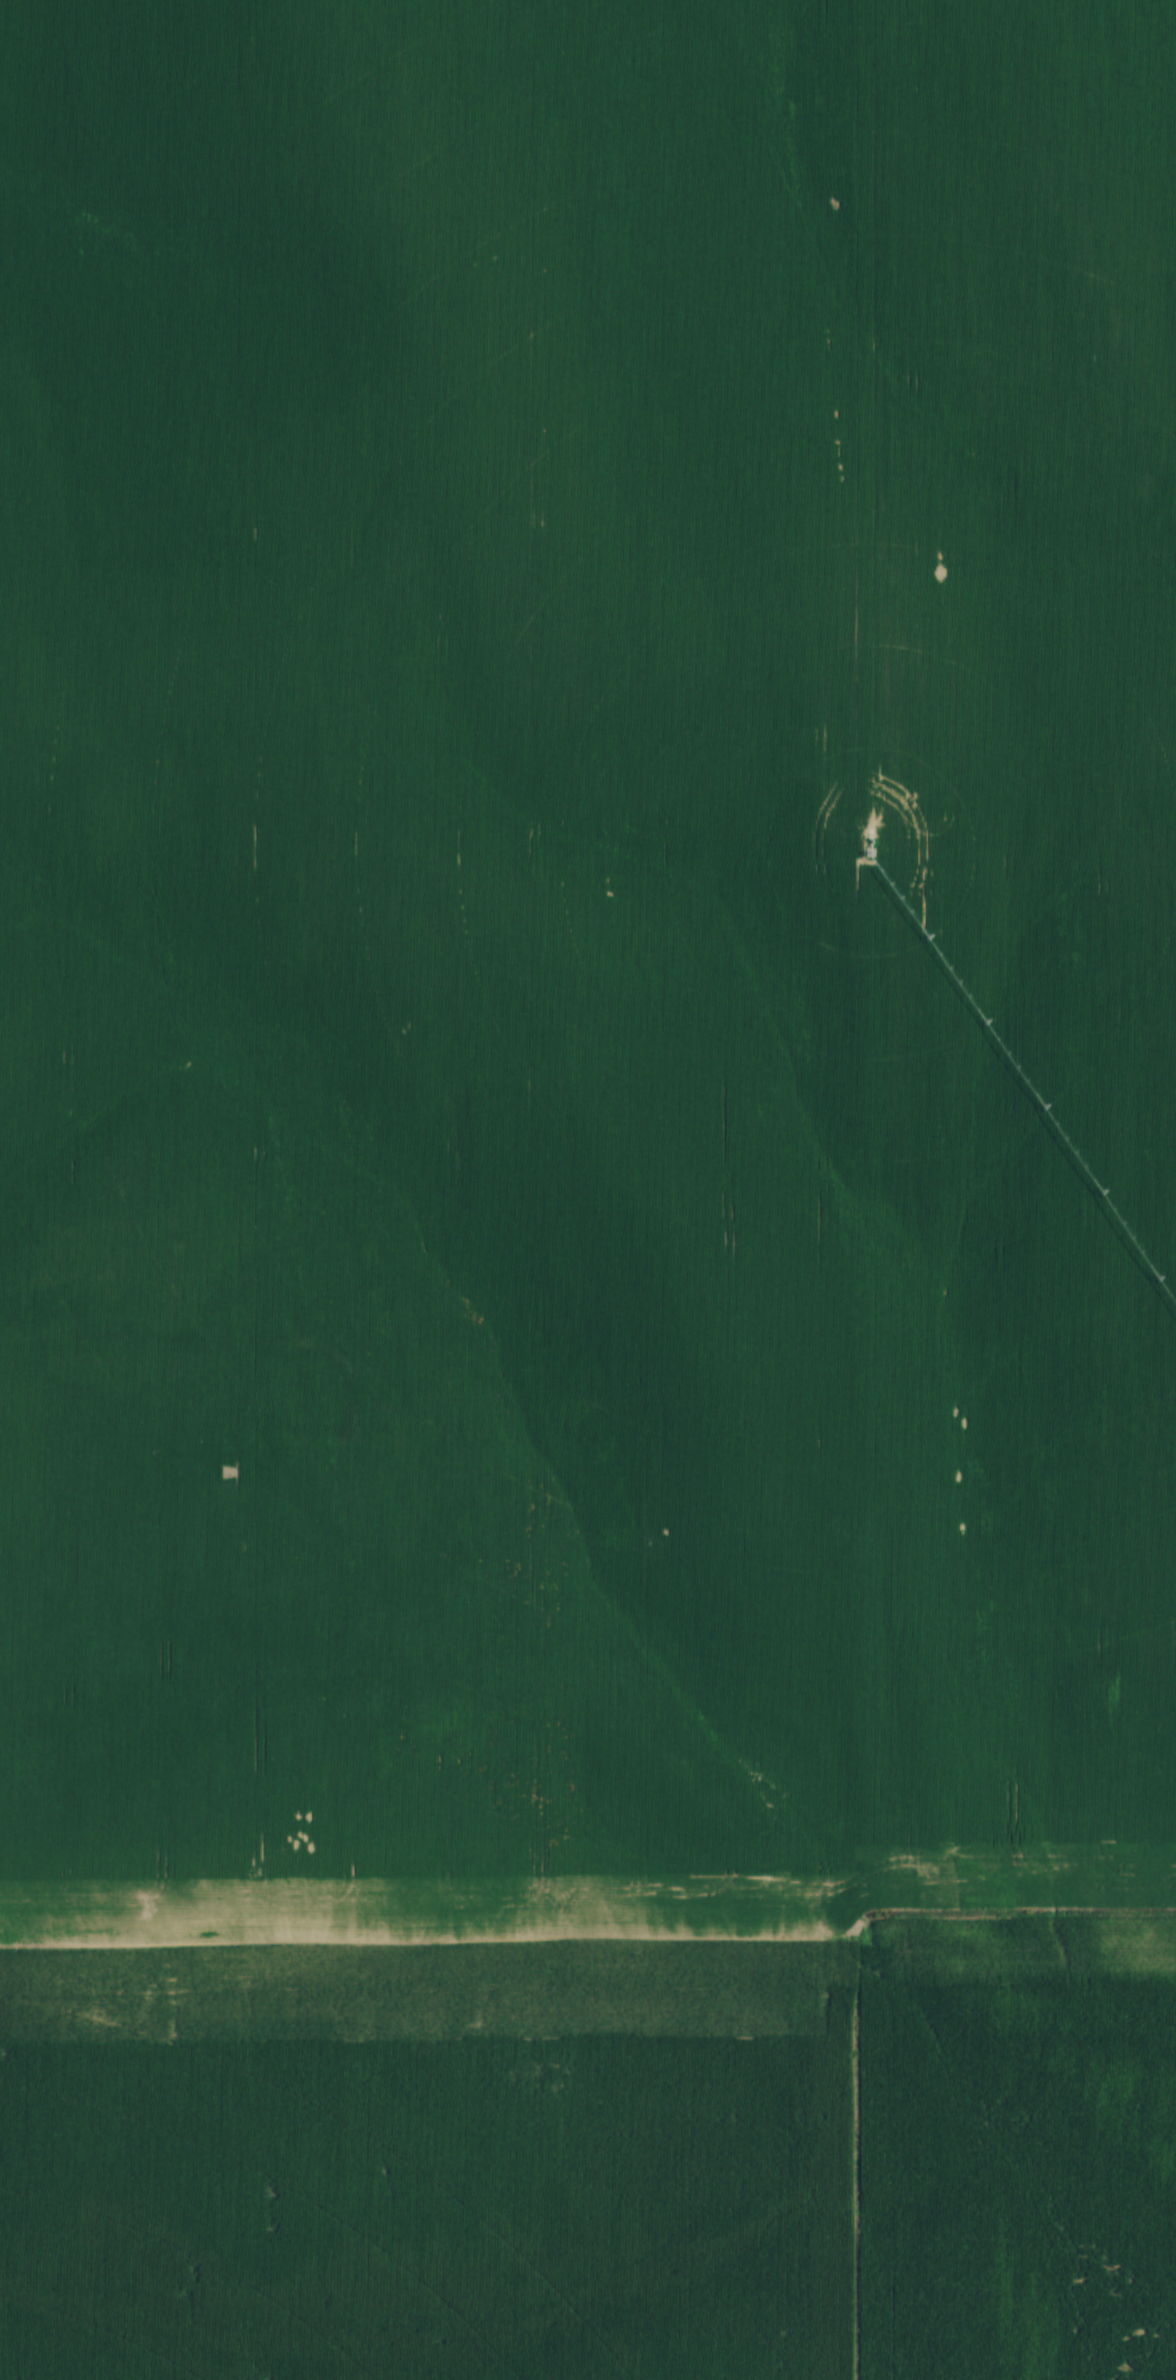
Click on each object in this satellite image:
building: (417, 1376)
building: (292, 1431)
building: (341, 1471)
building: (471, 1501)
building: (466, 1555)
building: (347, 1629)
building: (491, 1650)

